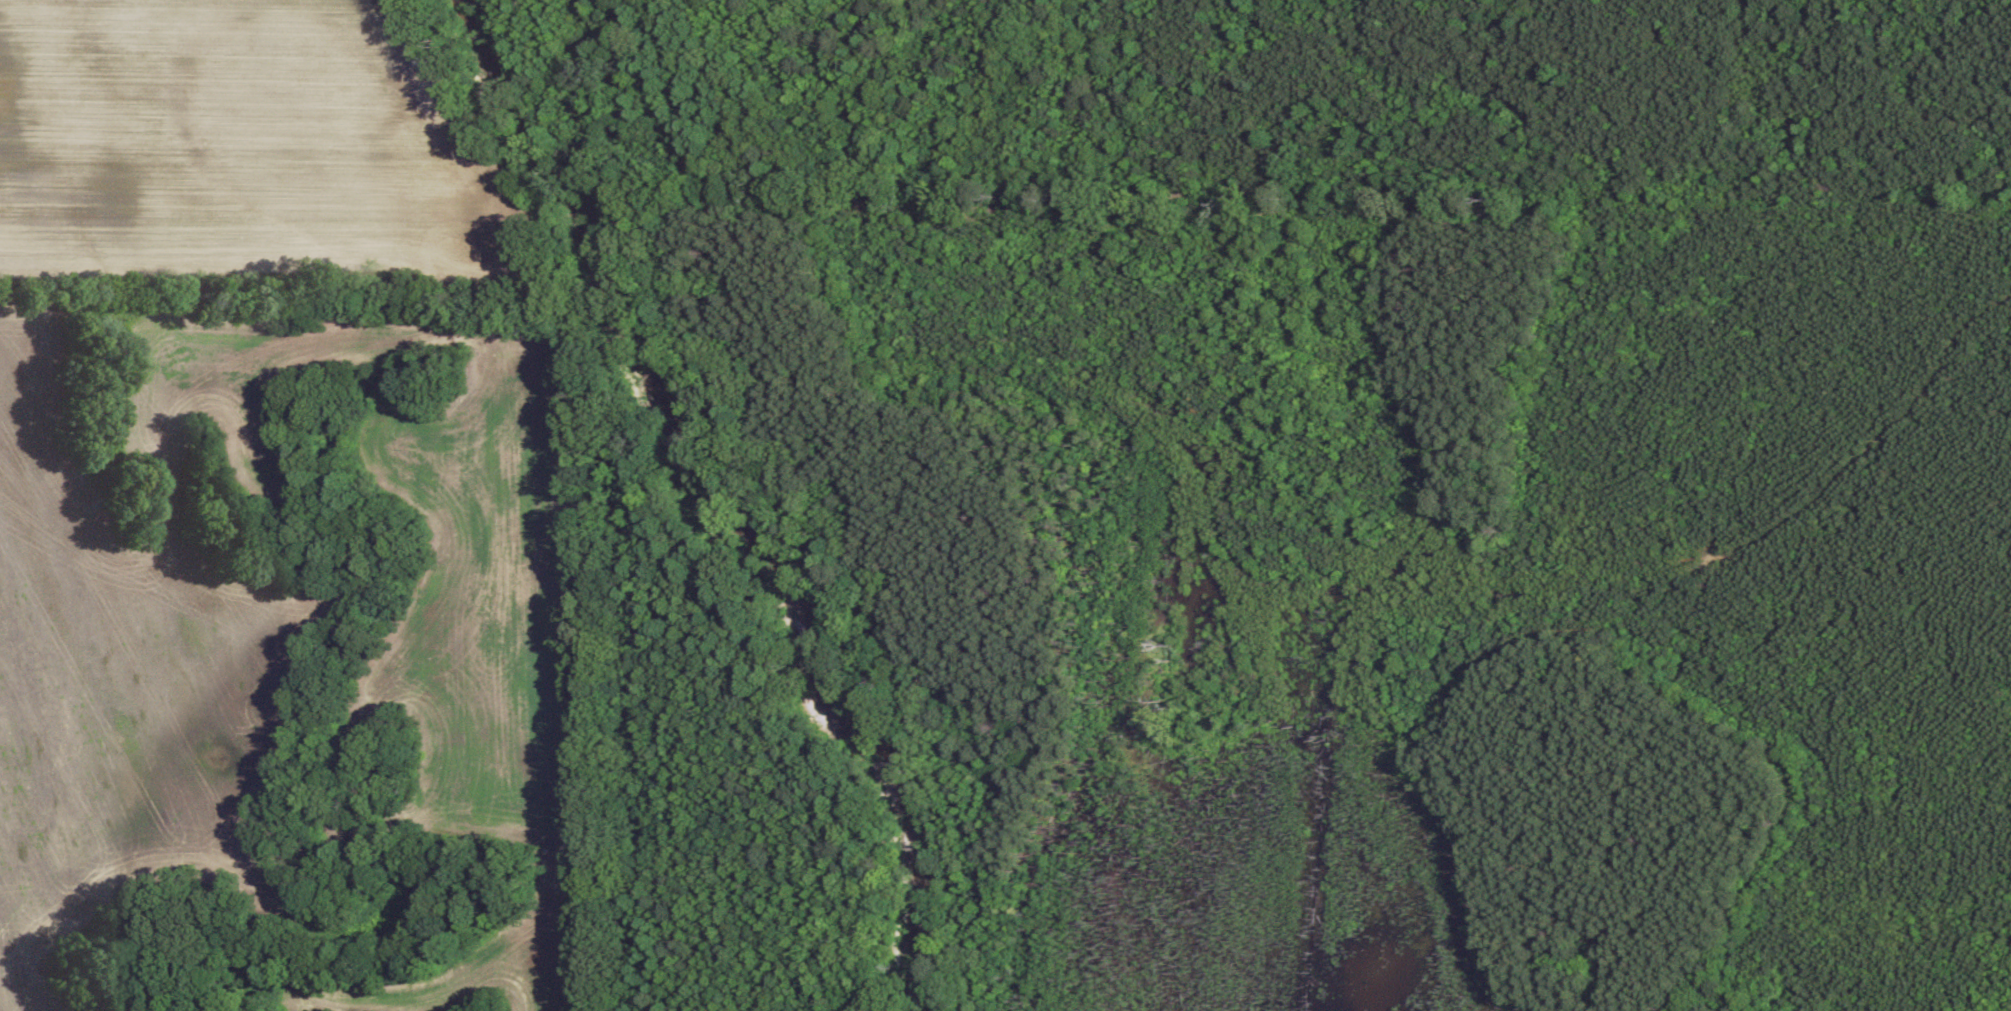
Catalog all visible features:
road: (1948, 376)

